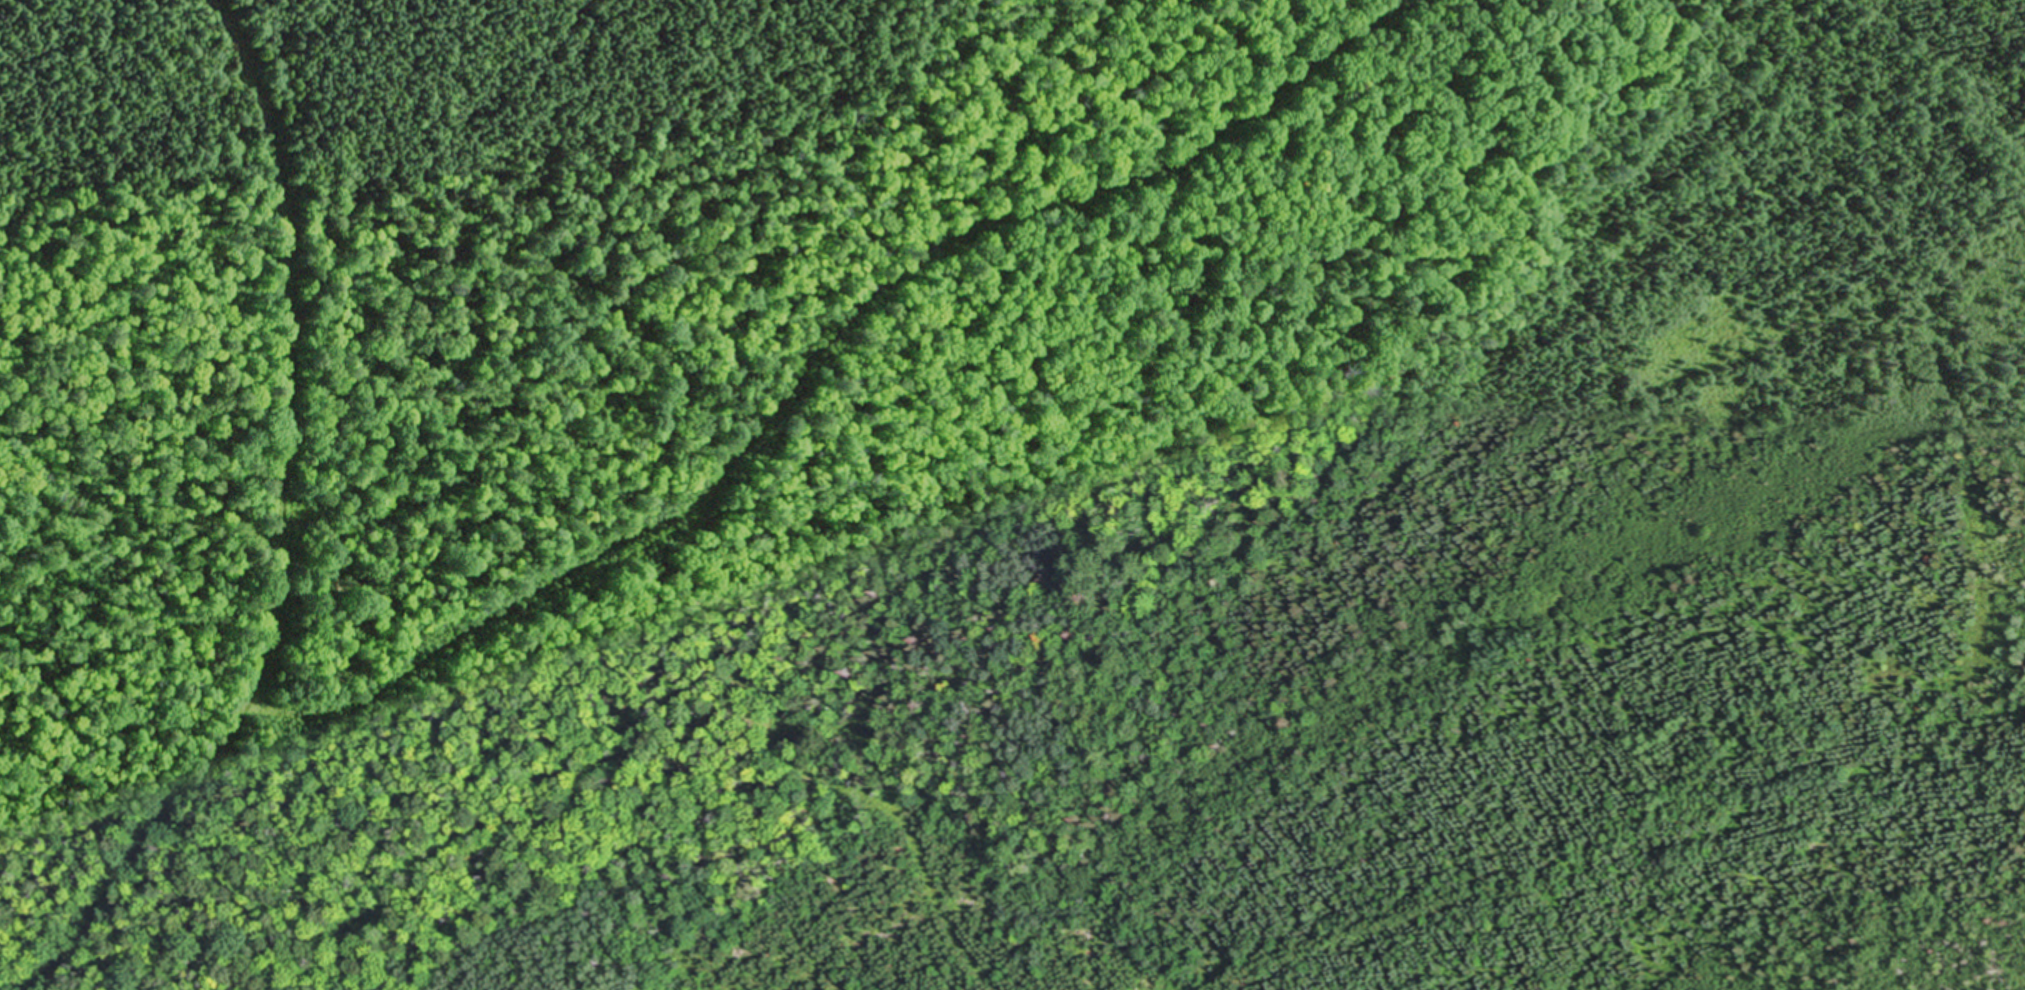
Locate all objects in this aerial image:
road: (82, 157)

